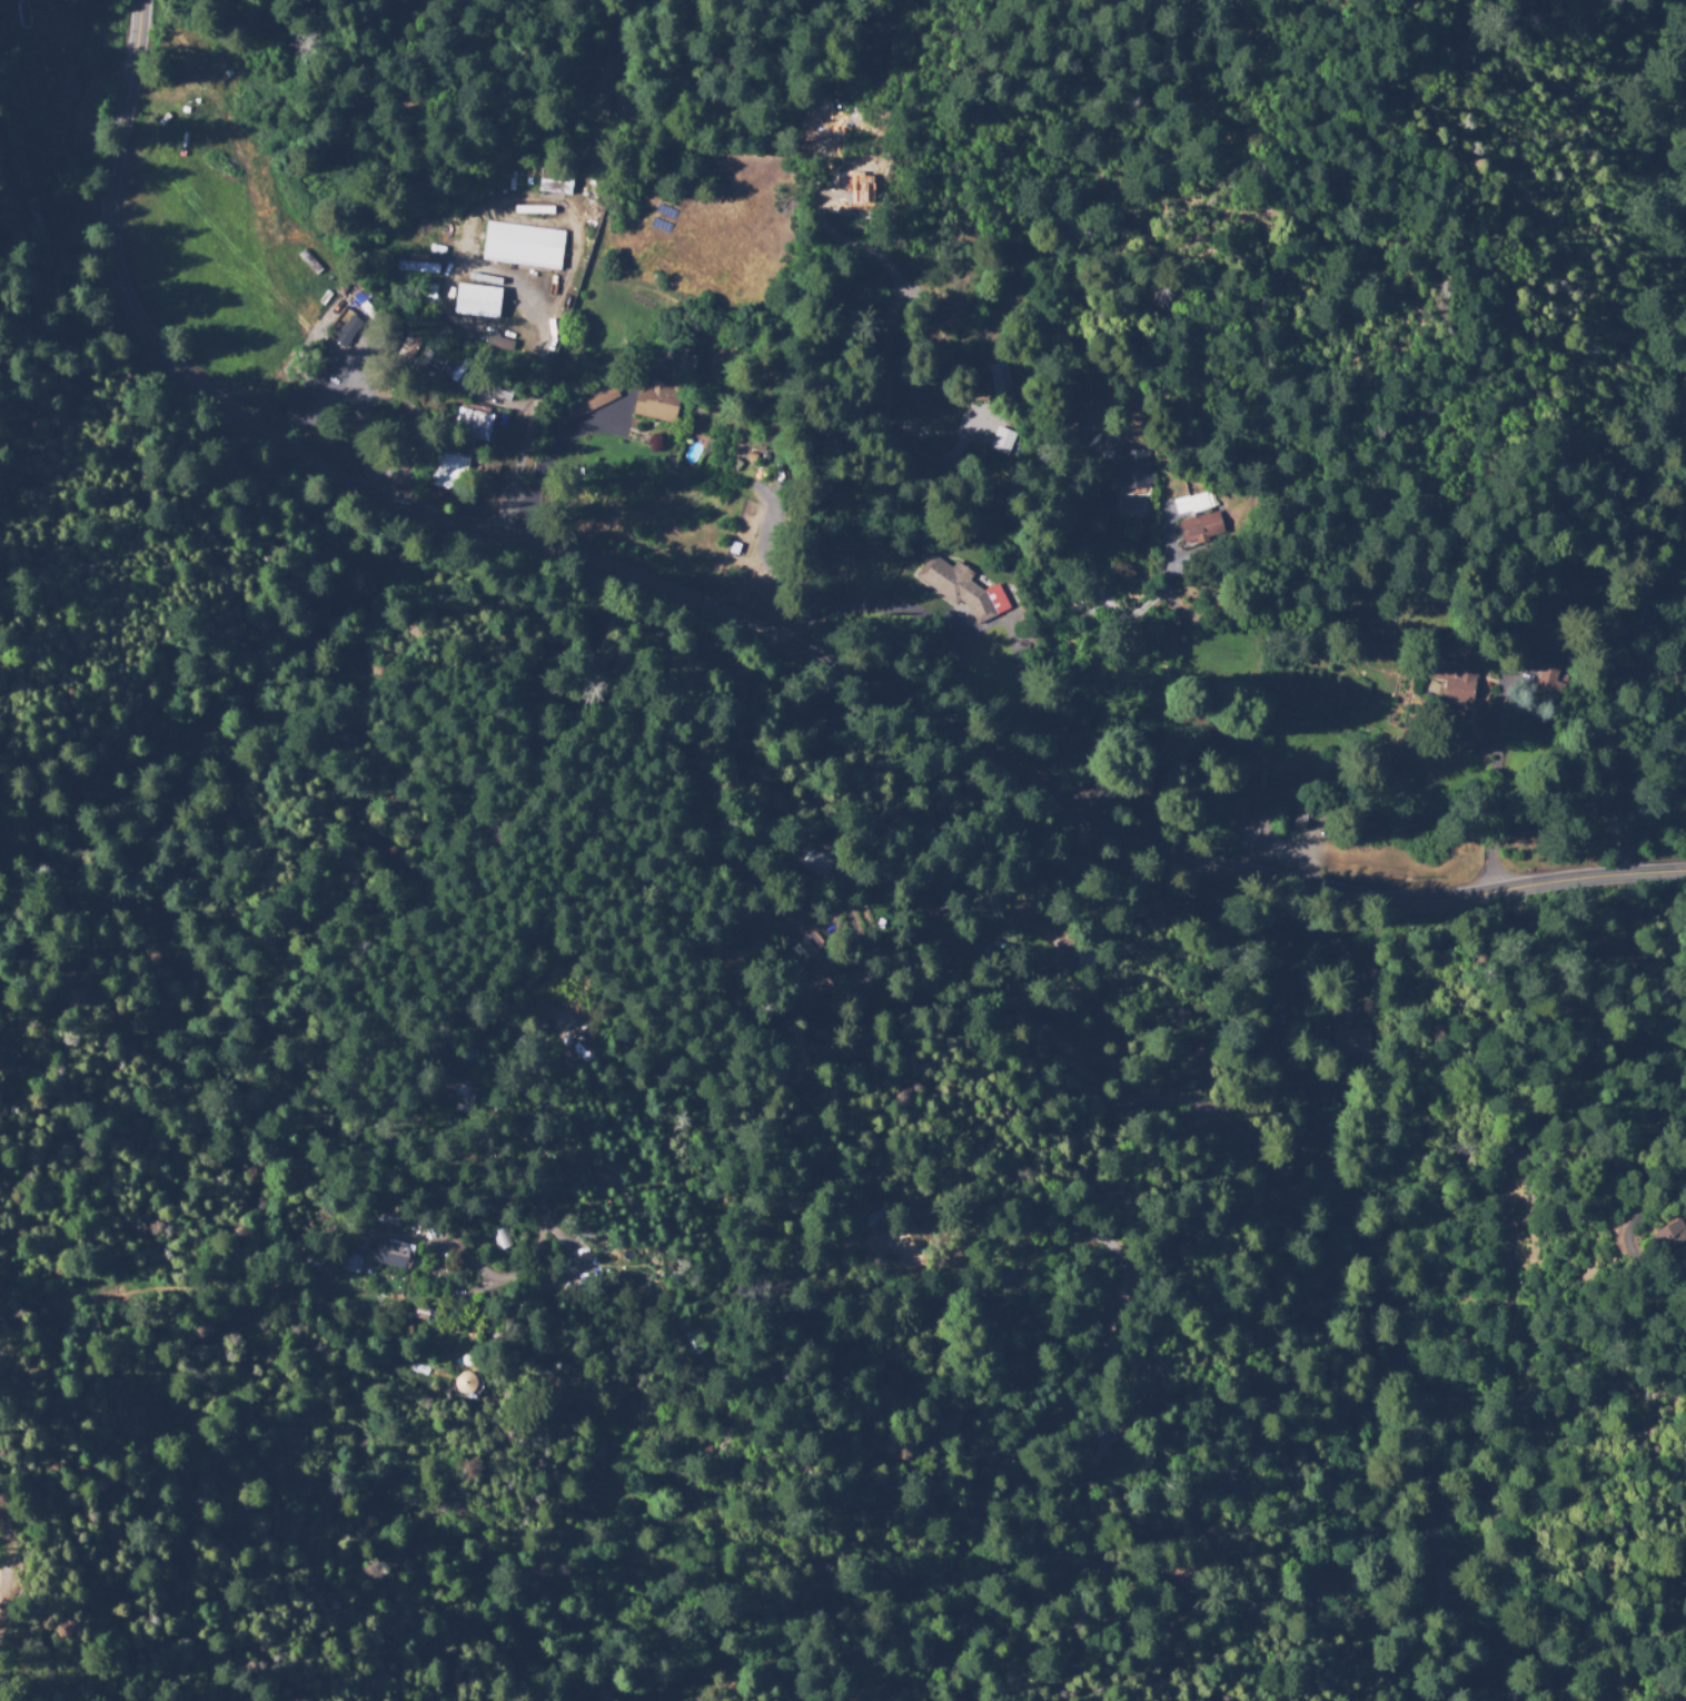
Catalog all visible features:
road: (896, 23)
road: (911, 48)
building: (63, 86)
building: (623, 100)
building: (348, 145)
building: (18, 172)
building: (555, 182)
building: (28, 204)
building: (535, 206)
building: (625, 212)
building: (523, 246)
building: (415, 268)
building: (426, 294)
building: (476, 301)
building: (364, 306)
building: (347, 332)
building: (375, 336)
building: (389, 343)
building: (404, 348)
building: (685, 348)
building: (419, 356)
building: (321, 367)
building: (449, 370)
building: (494, 387)
building: (592, 400)
building: (658, 403)
building: (297, 404)
road: (523, 412)
building: (405, 425)
building: (472, 426)
building: (1001, 438)
building: (1134, 467)
building: (449, 472)
building: (1131, 504)
building: (1104, 516)
building: (1200, 522)
road: (1286, 546)
building: (961, 590)
road: (737, 621)
building: (1457, 679)
building: (1550, 680)
building: (1523, 693)
road: (1218, 785)
building: (1153, 789)
building: (1237, 812)
building: (1267, 818)
building: (1282, 818)
building: (1299, 818)
building: (819, 864)
building: (934, 923)
building: (979, 966)
building: (1349, 1038)
building: (476, 1055)
building: (455, 1092)
building: (380, 1217)
building: (880, 1232)
building: (499, 1235)
building: (1668, 1236)
building: (387, 1252)
building: (318, 1257)
building: (350, 1264)
road: (1382, 1295)
building: (417, 1311)
building: (692, 1343)
building: (467, 1359)
building: (466, 1382)
road: (12, 1579)
building: (1358, 1579)

